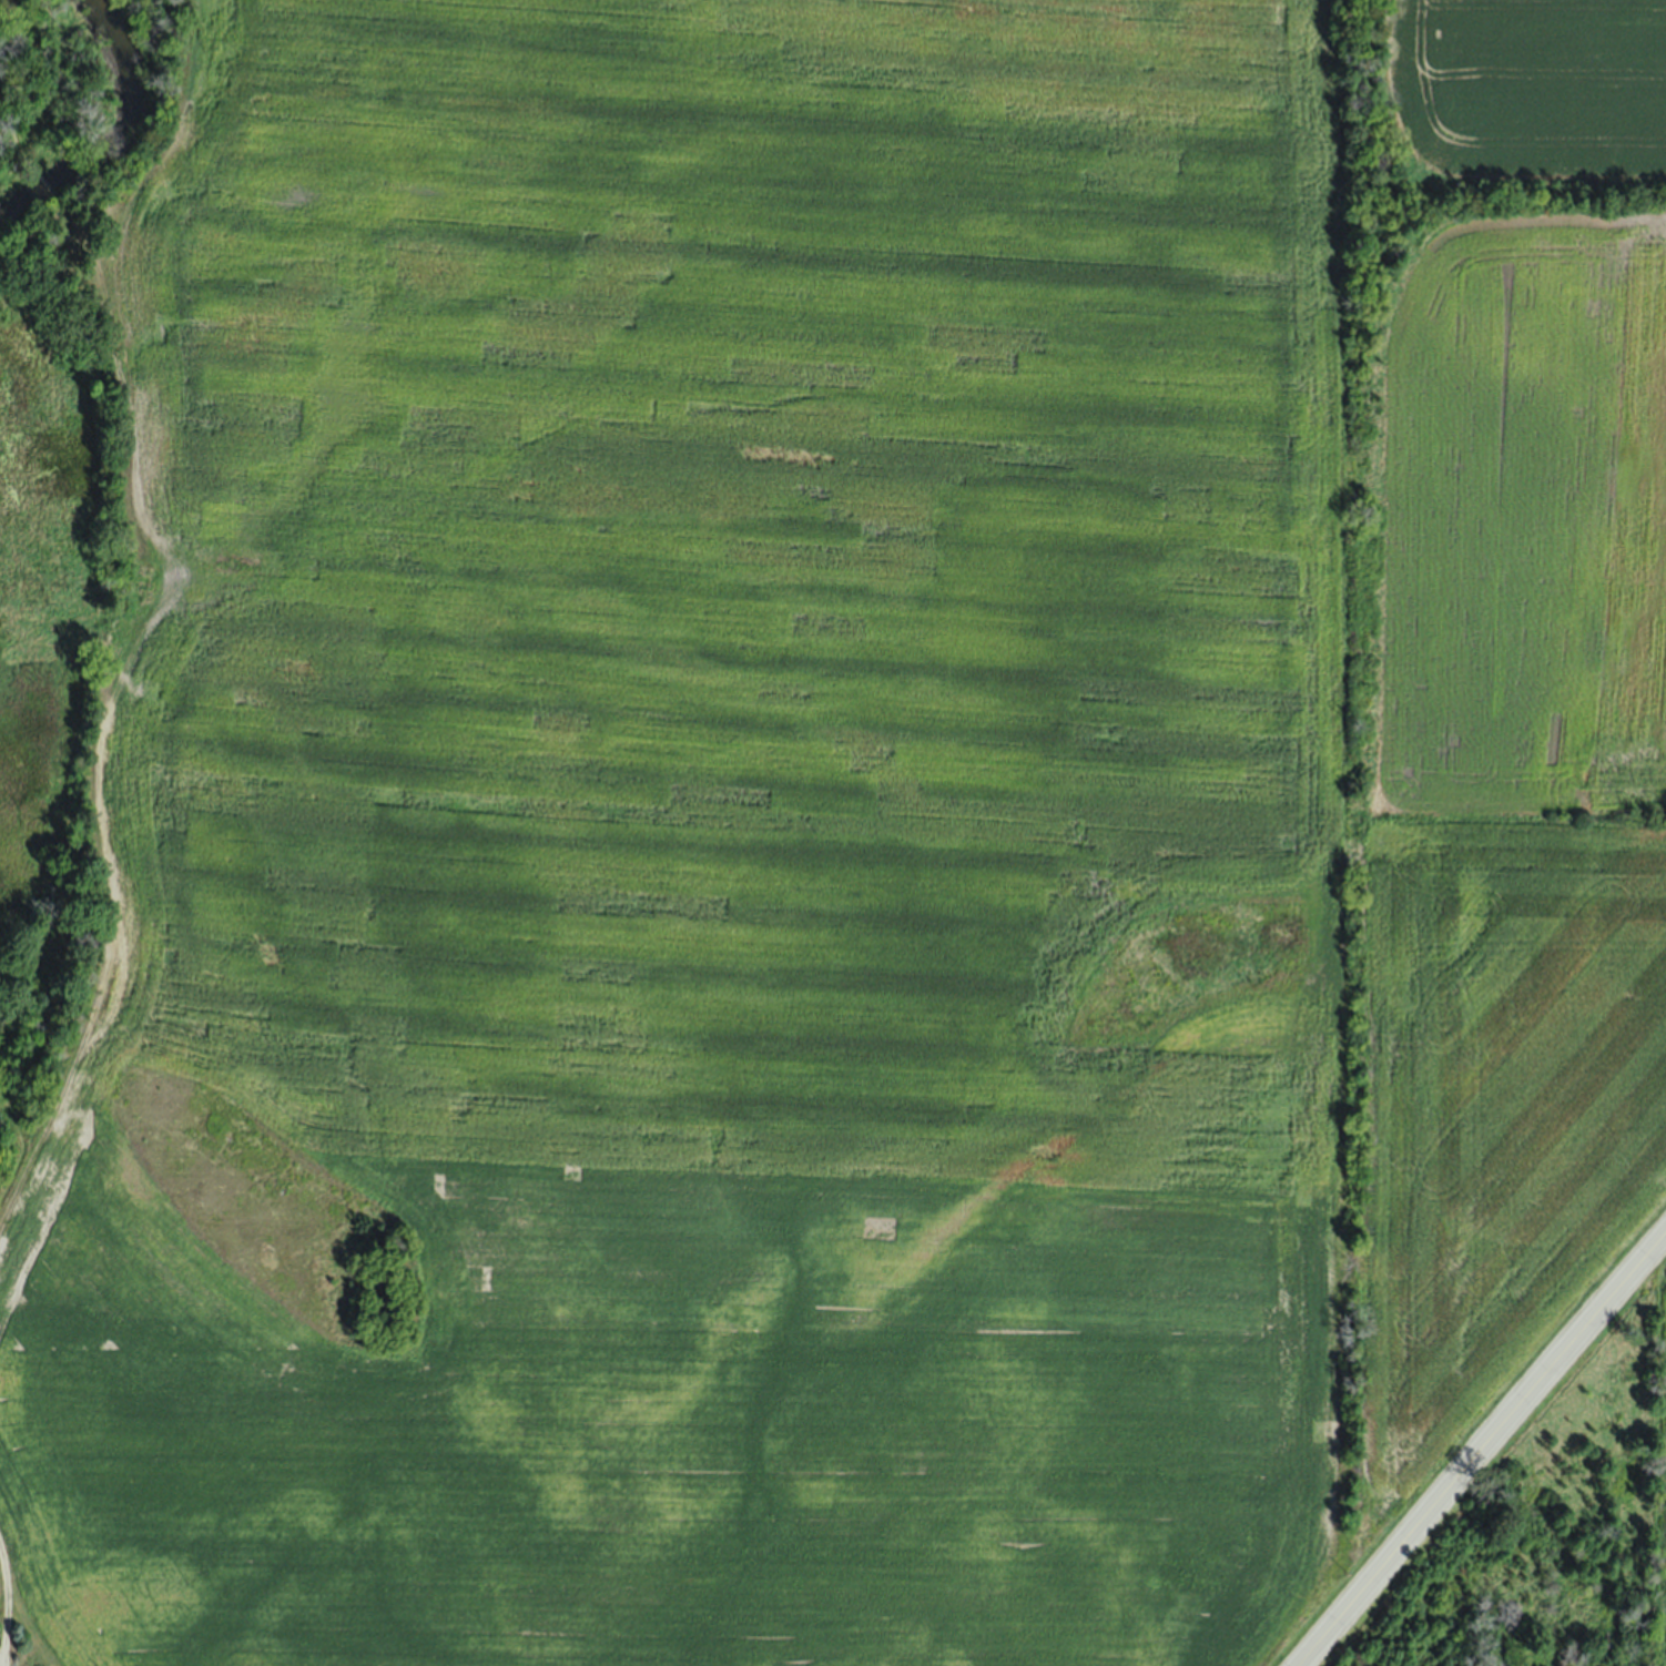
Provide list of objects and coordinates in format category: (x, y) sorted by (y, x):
river: (101, 123)
road: (1486, 1456)
road: (0, 1665)

